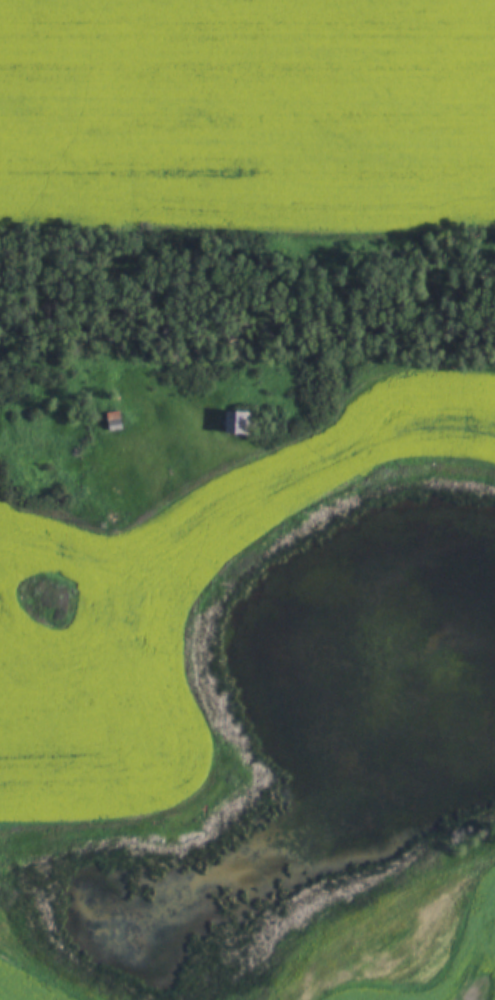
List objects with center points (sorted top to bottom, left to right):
road: (361, 381)

